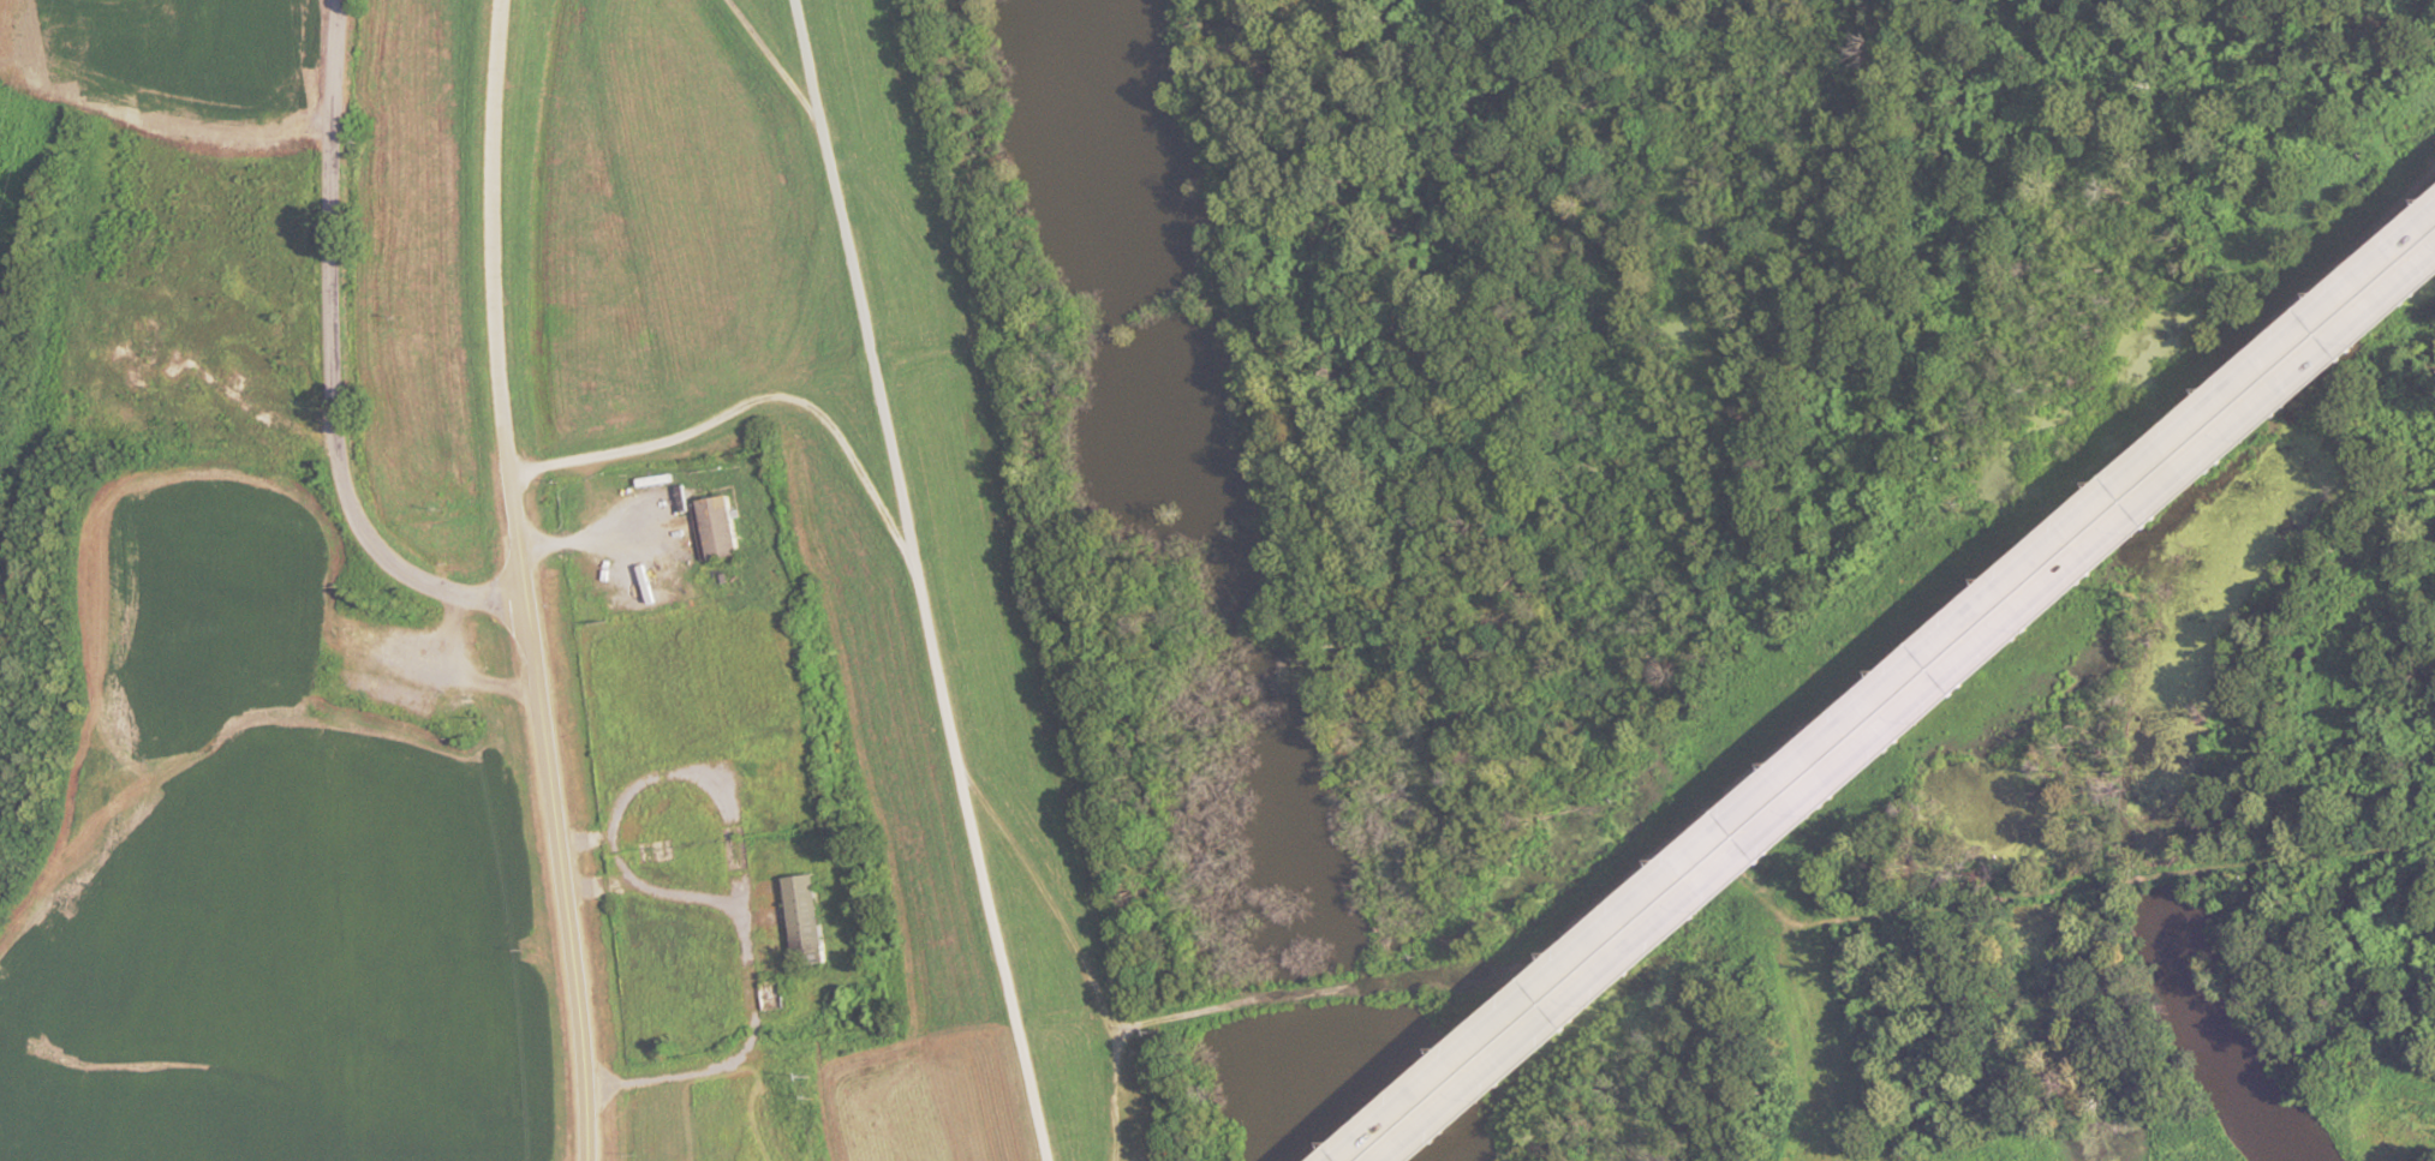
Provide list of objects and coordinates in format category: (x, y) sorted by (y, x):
road: (825, 74)
building: (2399, 275)
road: (333, 357)
road: (751, 400)
building: (2248, 421)
building: (711, 532)
road: (920, 565)
road: (518, 581)
road: (1887, 690)
road: (1914, 712)
building: (1818, 777)
building: (799, 921)
road: (1711, 935)
building: (771, 999)
building: (1527, 1023)

